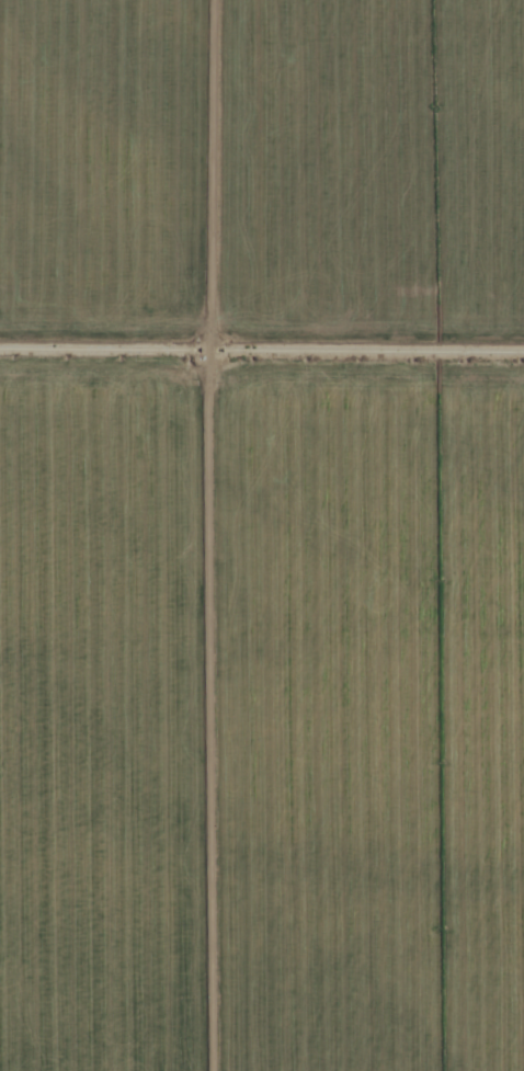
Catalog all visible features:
crop: (262, 535)

